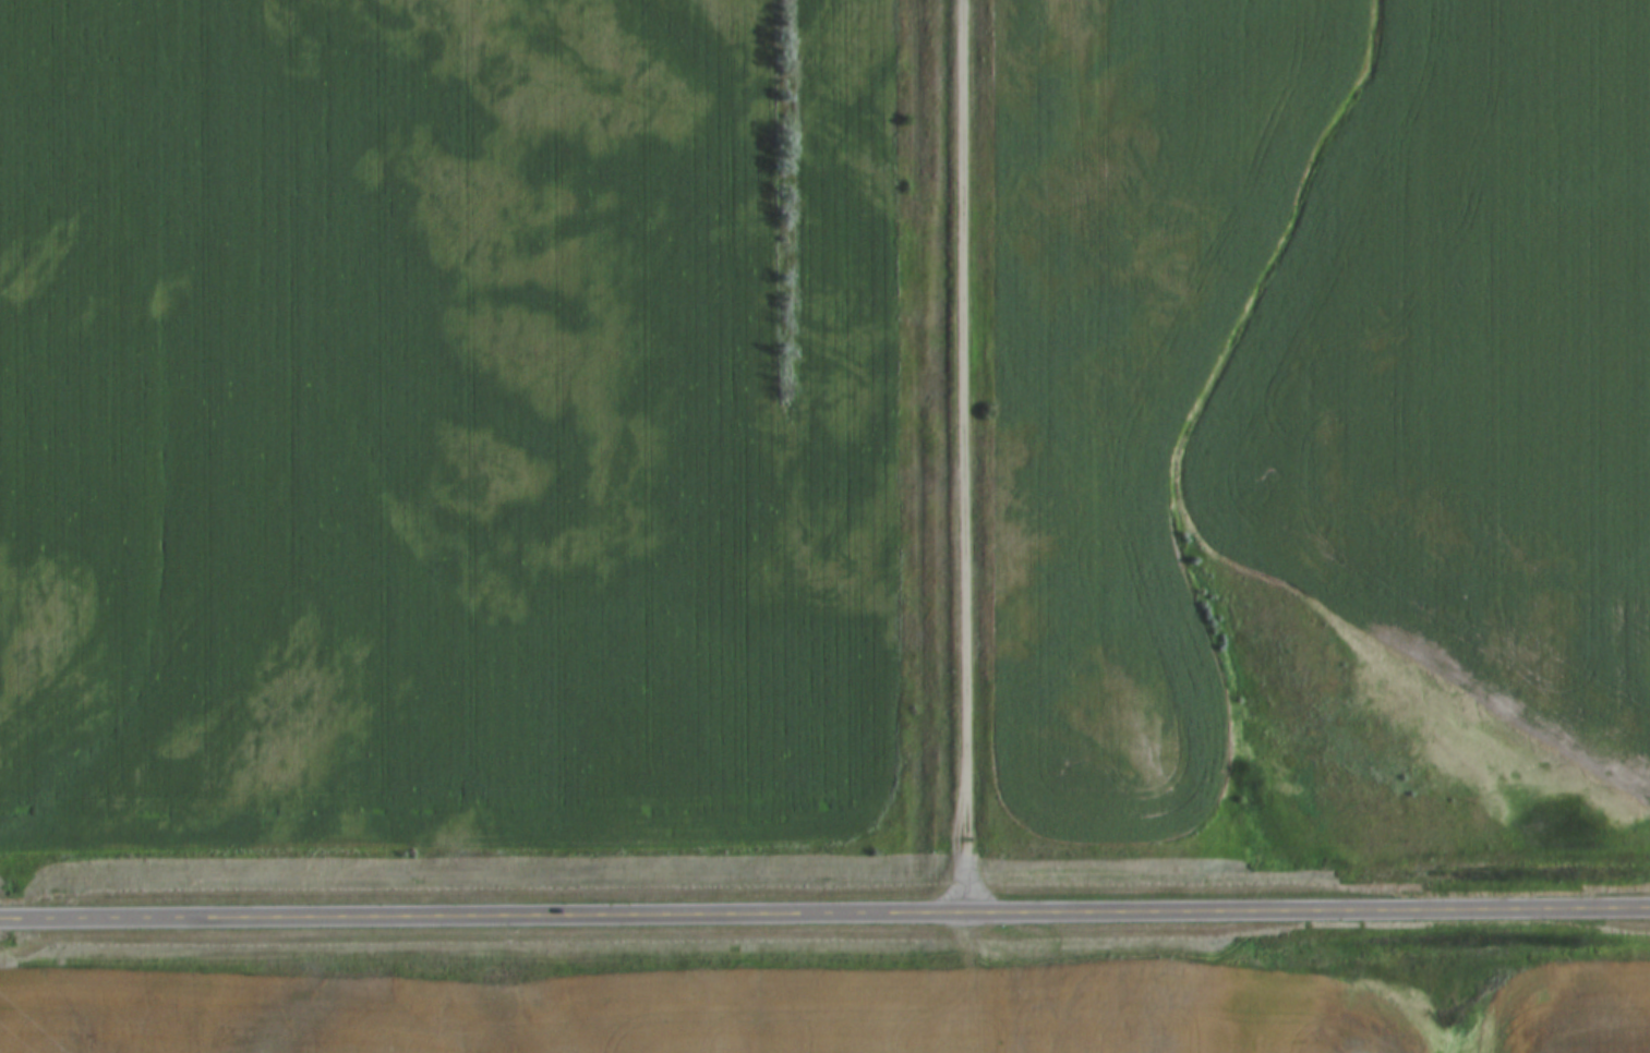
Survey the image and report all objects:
road: (962, 453)
road: (824, 908)
road: (984, 978)

